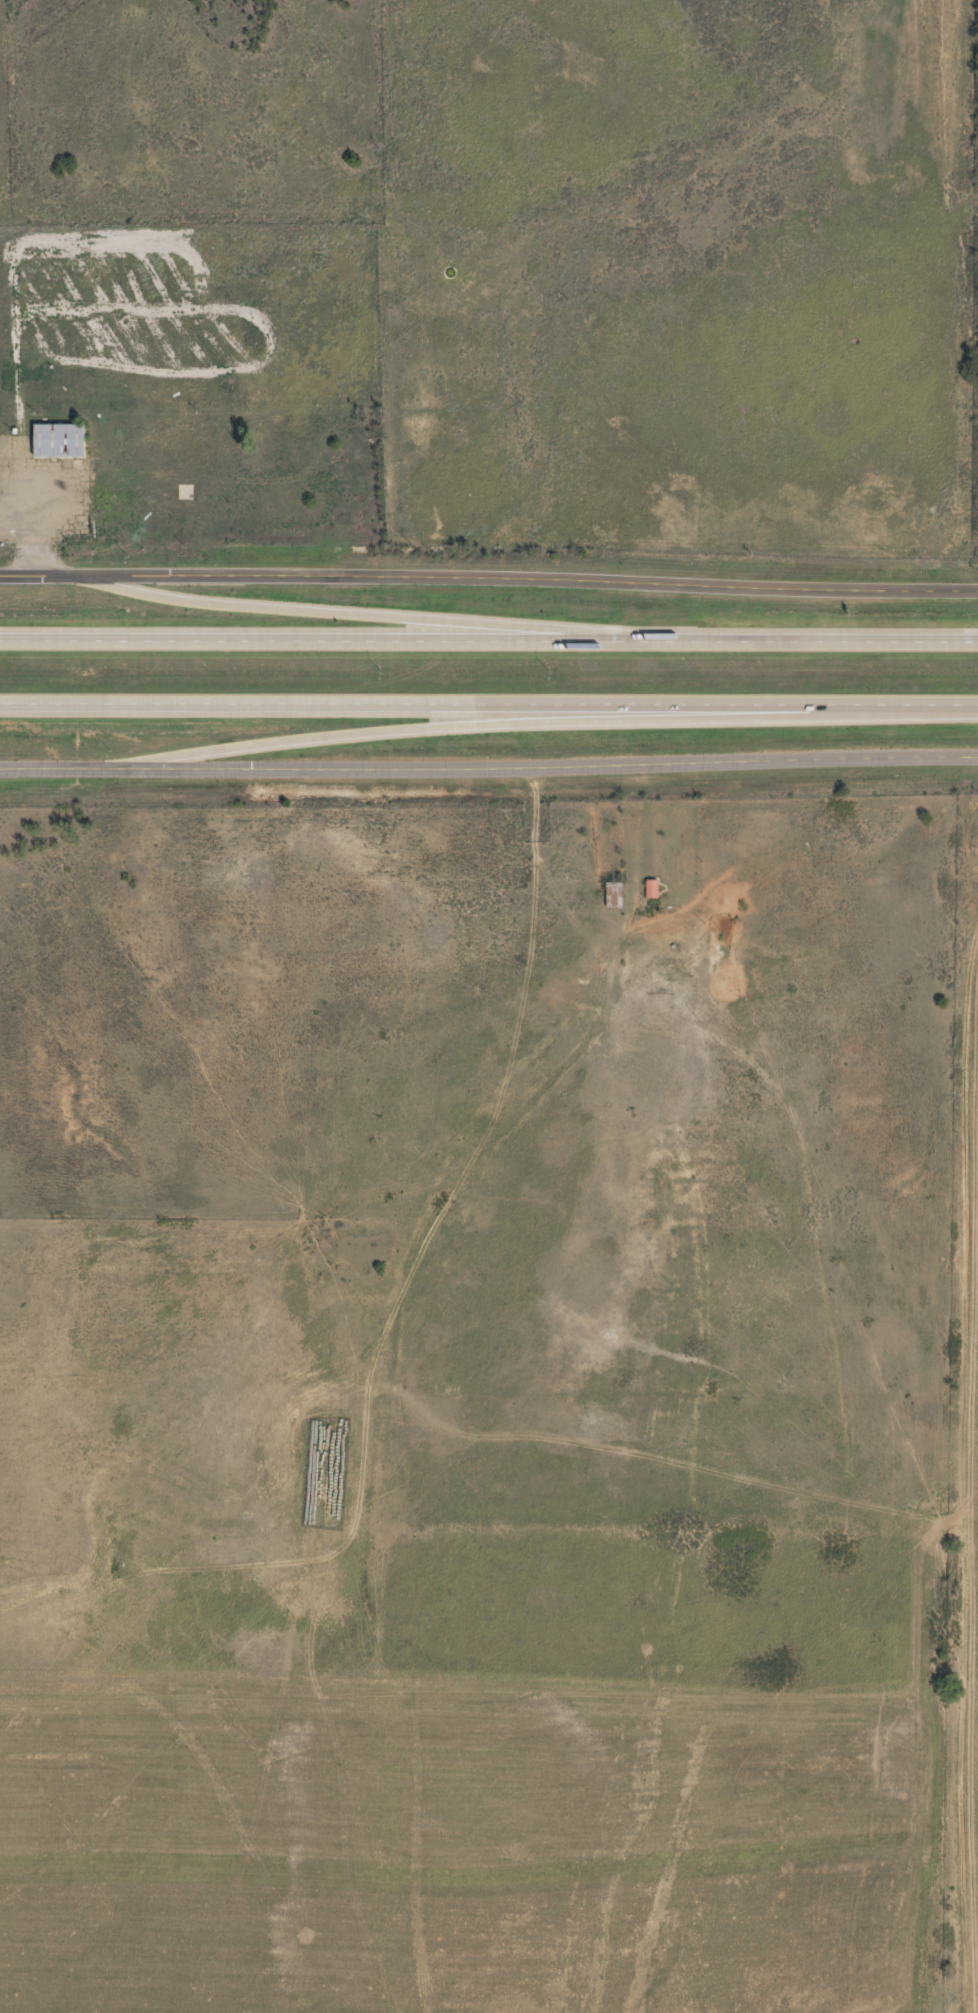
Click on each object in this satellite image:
building: (55, 438)
building: (185, 490)
road: (33, 528)
road: (489, 574)
road: (389, 611)
road: (488, 637)
road: (489, 708)
road: (461, 725)
road: (54, 764)
road: (543, 765)
building: (650, 887)
building: (613, 893)

